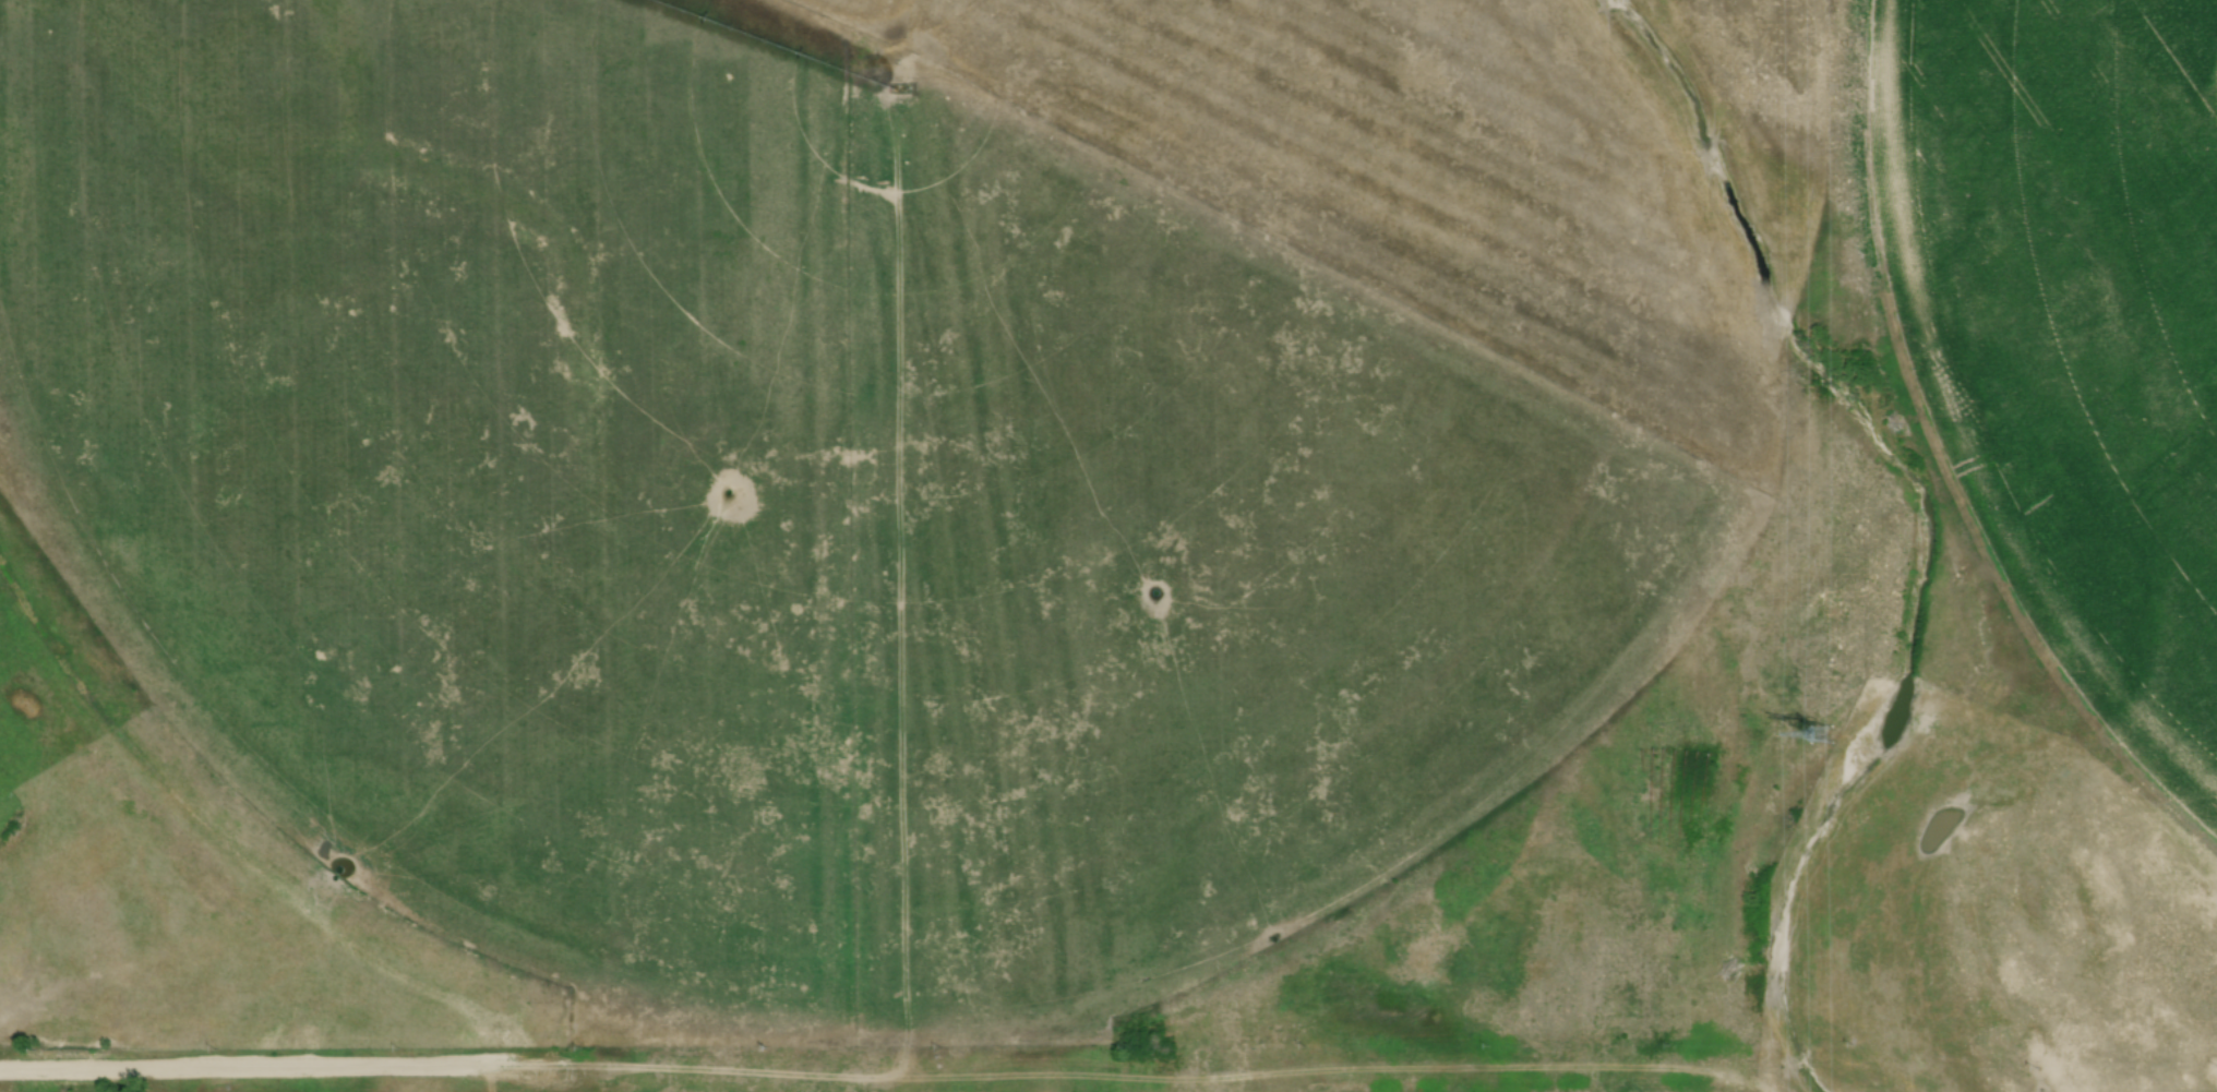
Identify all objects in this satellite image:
power tower: (1818, 736)
road: (438, 1073)

